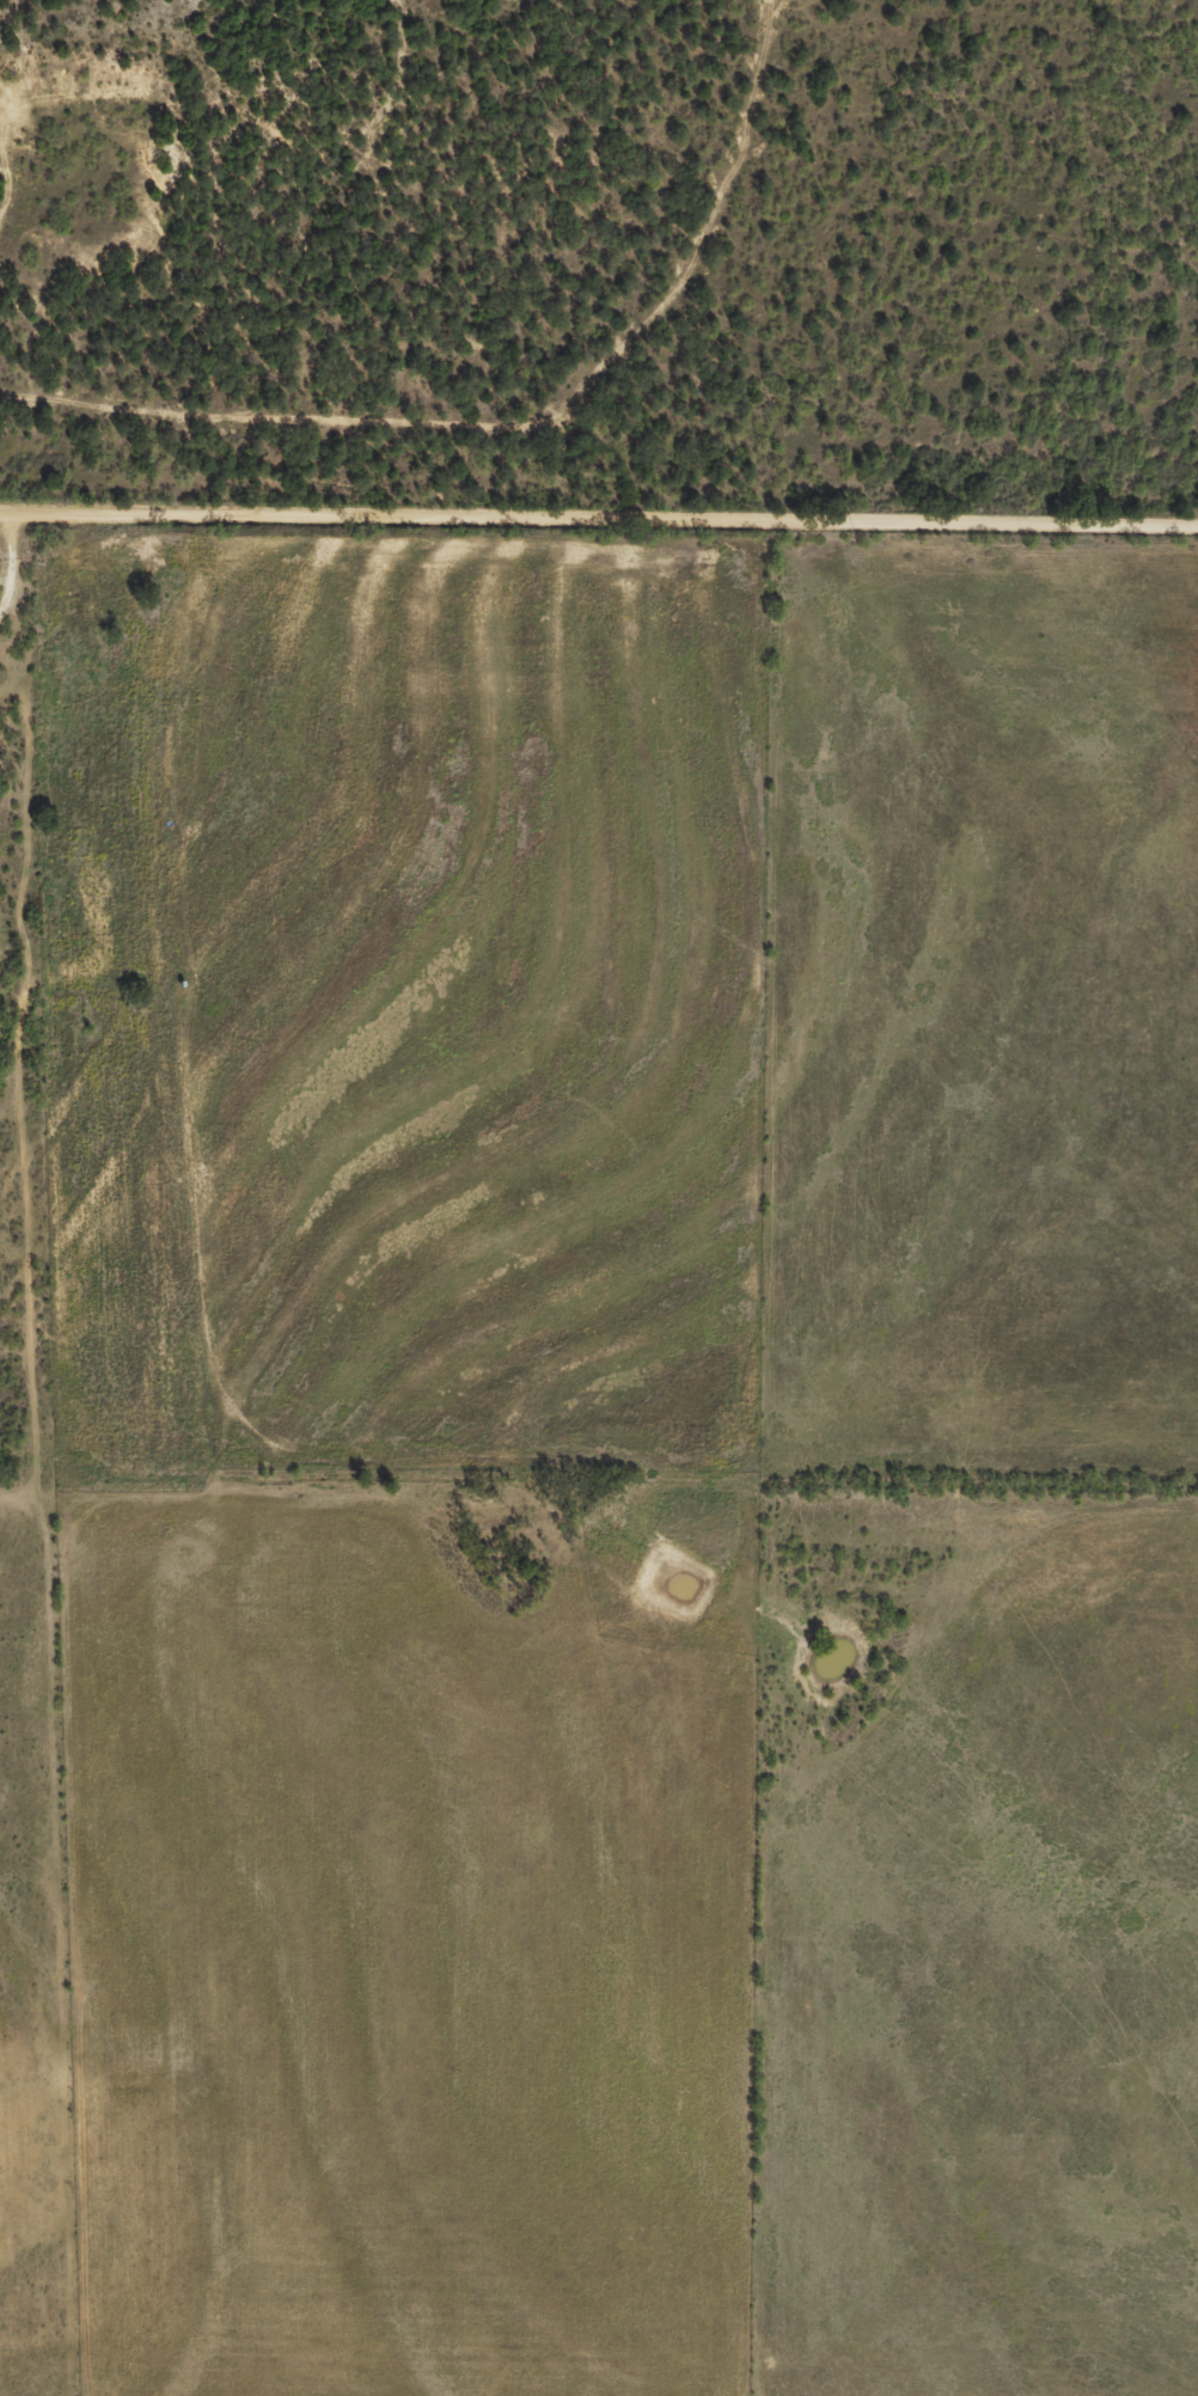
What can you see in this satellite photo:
road: (599, 521)

